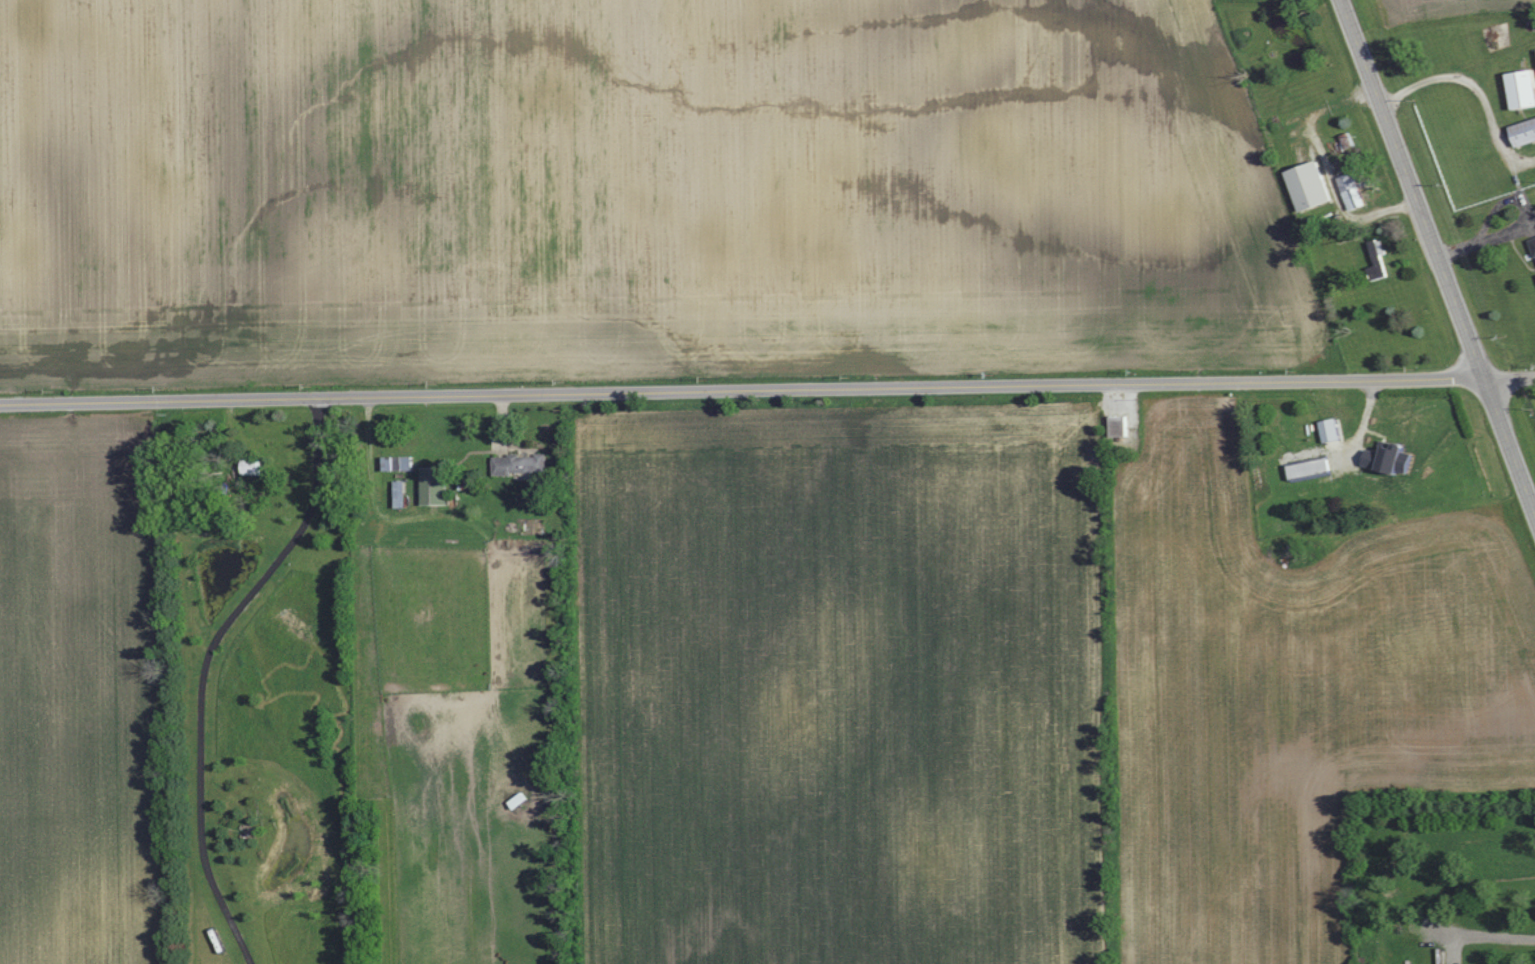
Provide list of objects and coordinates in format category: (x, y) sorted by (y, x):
road: (1467, 83)
building: (1523, 90)
building: (1525, 134)
building: (1311, 188)
road: (1413, 189)
building: (1354, 193)
building: (1534, 242)
road: (1510, 377)
road: (743, 392)
road: (503, 422)
building: (1121, 425)
building: (1332, 430)
road: (1510, 447)
building: (1392, 458)
building: (524, 464)
building: (1312, 468)
road: (206, 669)
road: (1493, 935)

